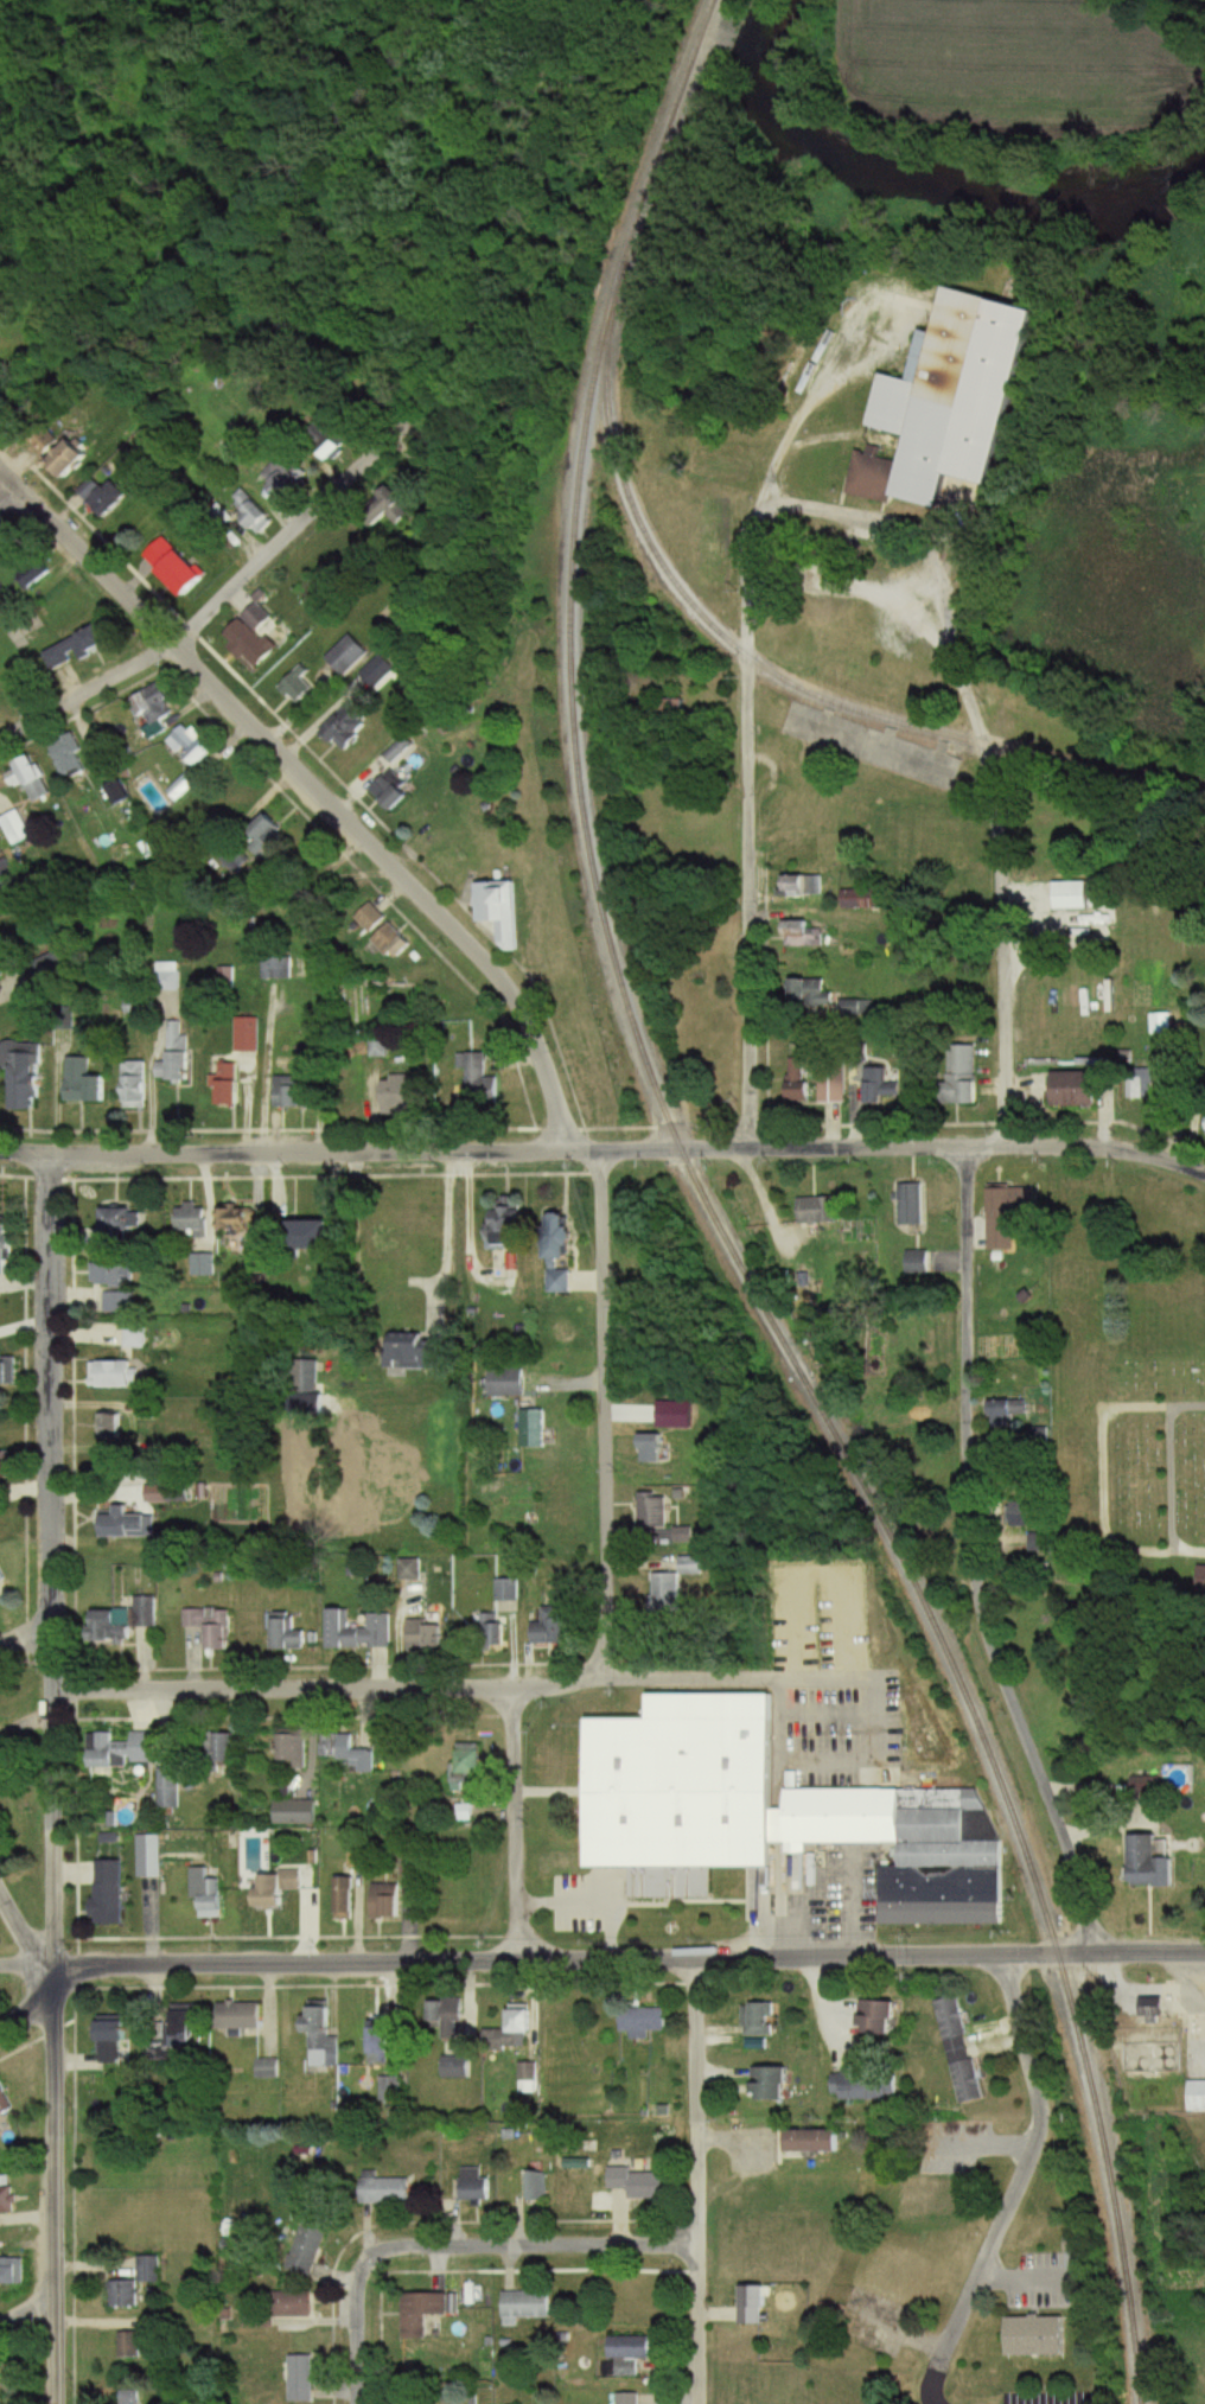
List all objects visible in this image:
river: (910, 178)
building: (935, 403)
building: (336, 444)
building: (77, 459)
building: (287, 479)
building: (106, 493)
road: (11, 495)
road: (825, 509)
building: (262, 517)
building: (162, 551)
building: (36, 574)
building: (187, 574)
road: (847, 582)
road: (191, 624)
building: (254, 638)
building: (79, 649)
building: (346, 653)
railway: (780, 676)
building: (298, 684)
building: (664, 709)
building: (154, 710)
building: (353, 727)
building: (195, 746)
building: (70, 759)
building: (33, 772)
building: (183, 785)
road: (313, 789)
building: (266, 828)
building: (18, 829)
road: (1001, 844)
road: (747, 852)
building: (7, 886)
building: (786, 887)
building: (1061, 897)
building: (856, 899)
building: (504, 911)
building: (795, 933)
building: (387, 936)
building: (276, 969)
building: (225, 976)
building: (801, 991)
building: (145, 1005)
building: (847, 1008)
building: (247, 1034)
building: (378, 1045)
building: (176, 1057)
building: (27, 1073)
building: (954, 1078)
building: (85, 1080)
building: (478, 1080)
building: (790, 1080)
building: (825, 1082)
building: (228, 1084)
building: (136, 1085)
building: (1133, 1088)
building: (874, 1089)
building: (294, 1090)
building: (1063, 1090)
building: (402, 1096)
building: (1200, 1126)
road: (604, 1148)
building: (904, 1205)
building: (810, 1211)
building: (187, 1219)
road: (441, 1219)
road: (465, 1219)
building: (995, 1220)
building: (238, 1222)
railway: (715, 1222)
building: (121, 1224)
building: (511, 1229)
building: (325, 1236)
building: (563, 1254)
building: (8, 1260)
building: (908, 1261)
building: (203, 1262)
building: (113, 1274)
building: (119, 1303)
building: (102, 1335)
building: (134, 1339)
building: (423, 1356)
building: (9, 1375)
building: (117, 1376)
building: (509, 1383)
park: (1127, 1407)
road: (1187, 1407)
building: (117, 1421)
building: (1003, 1421)
building: (535, 1429)
building: (645, 1448)
road: (601, 1452)
building: (8, 1465)
road: (1169, 1474)
building: (656, 1510)
building: (1013, 1516)
building: (129, 1525)
building: (1034, 1539)
road: (1185, 1551)
road: (971, 1560)
building: (2, 1575)
building: (1190, 1579)
building: (510, 1589)
building: (669, 1593)
building: (123, 1621)
building: (212, 1626)
building: (559, 1627)
building: (497, 1630)
building: (358, 1631)
building: (292, 1633)
building: (427, 1635)
road: (28, 1650)
road: (871, 1675)
road: (283, 1691)
building: (0, 1720)
building: (297, 1746)
building: (231, 1747)
building: (125, 1749)
building: (349, 1751)
building: (468, 1766)
road: (55, 1779)
building: (684, 1781)
building: (1139, 1786)
building: (298, 1812)
road: (516, 1825)
building: (149, 1856)
building: (1136, 1864)
building: (408, 1867)
building: (279, 1887)
building: (111, 1889)
building: (209, 1892)
building: (345, 1899)
building: (388, 1901)
road: (23, 1933)
road: (631, 1959)
road: (28, 1965)
building: (1142, 2008)
building: (241, 2015)
building: (441, 2016)
building: (885, 2016)
building: (524, 2019)
building: (760, 2020)
building: (645, 2022)
road: (27, 2024)
building: (180, 2033)
building: (324, 2035)
building: (116, 2042)
building: (963, 2049)
building: (458, 2067)
building: (269, 2068)
building: (777, 2083)
building: (869, 2085)
building: (393, 2090)
building: (1193, 2097)
building: (7, 2099)
building: (820, 2141)
road: (697, 2181)
building: (640, 2183)
road: (1015, 2183)
building: (476, 2186)
building: (534, 2187)
building: (388, 2192)
building: (6, 2195)
building: (933, 2199)
building: (310, 2250)
road: (461, 2250)
building: (12, 2271)
building: (906, 2274)
road: (1019, 2277)
building: (139, 2284)
building: (295, 2304)
building: (757, 2306)
road: (30, 2308)
building: (529, 2308)
building: (426, 2311)
building: (1026, 2336)
building: (132, 2345)
building: (631, 2347)
building: (0, 2377)
building: (305, 2378)
building: (132, 2396)
building: (626, 2398)

